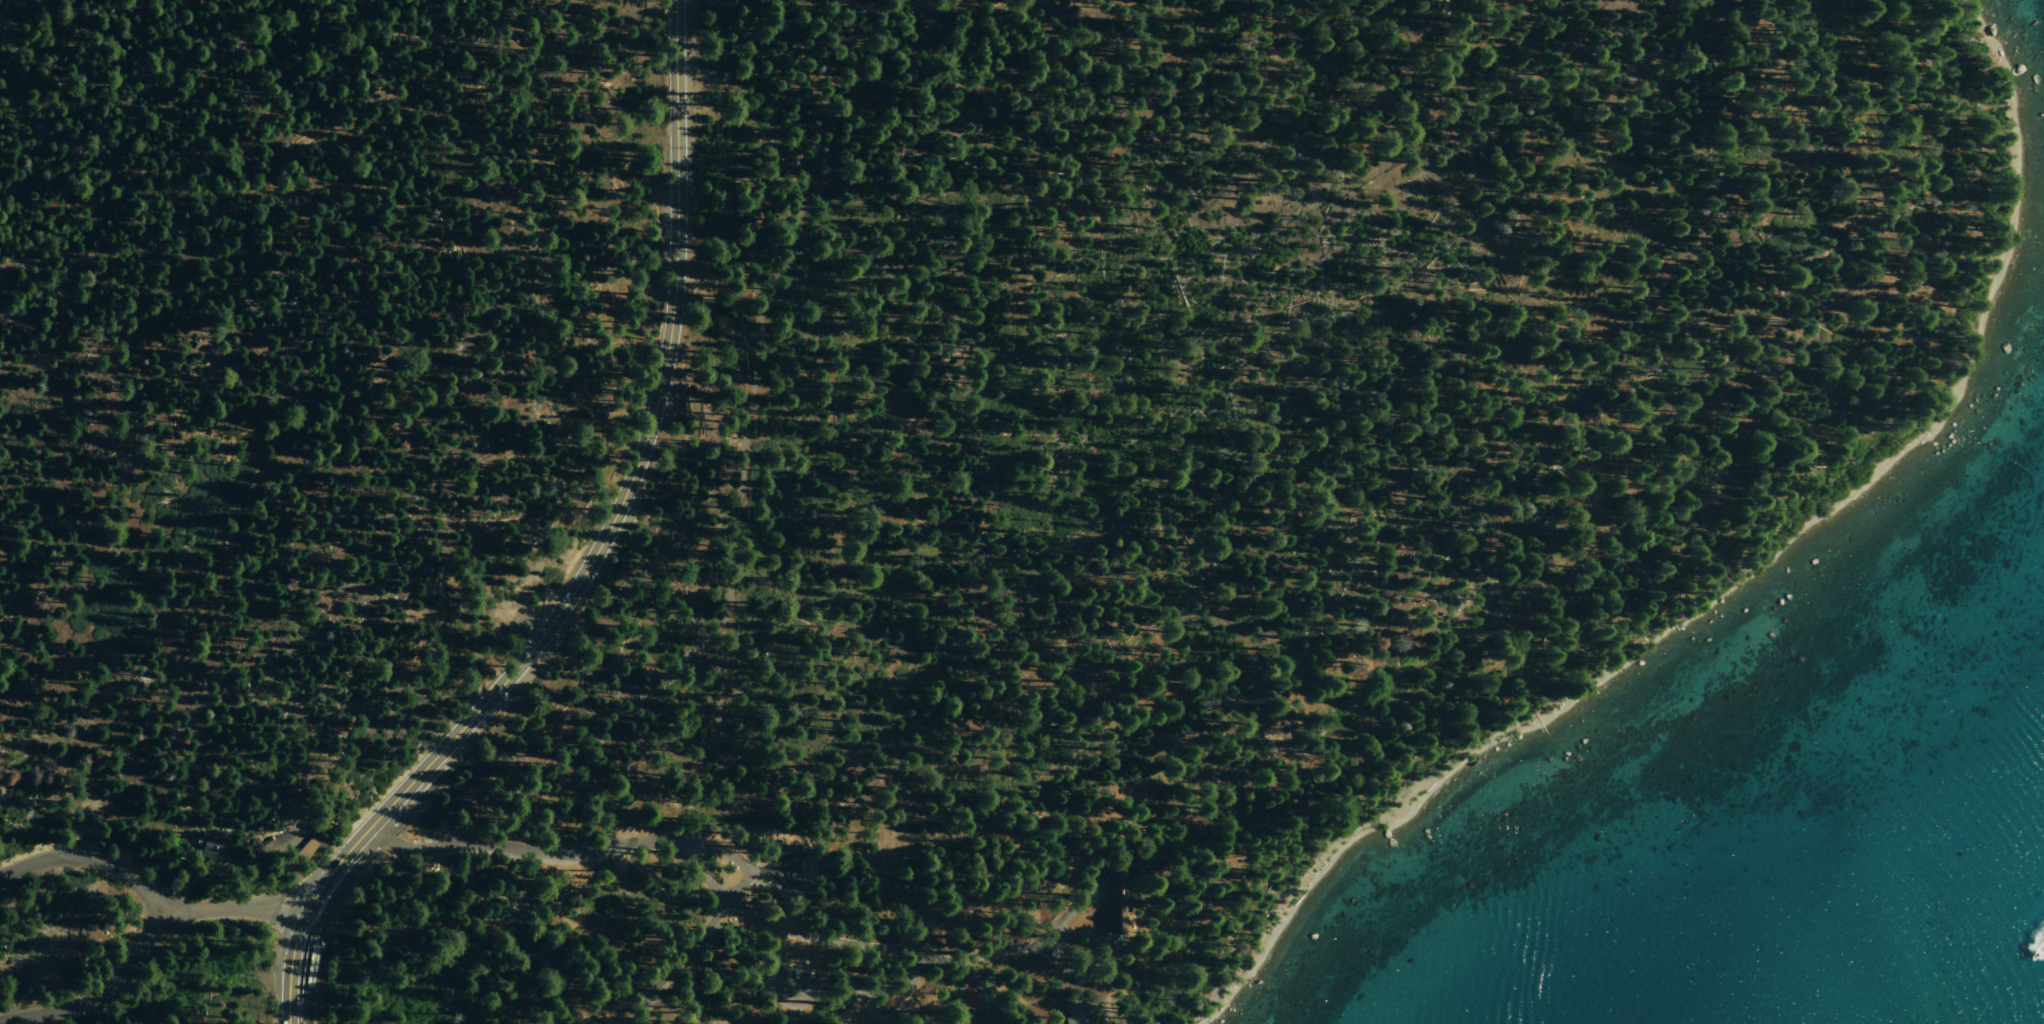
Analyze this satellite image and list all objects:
road: (591, 557)
road: (716, 612)
road: (1367, 742)
road: (439, 768)
road: (912, 816)
road: (513, 847)
building: (213, 853)
road: (145, 893)
building: (1115, 898)
road: (702, 932)
road: (837, 941)
building: (768, 984)
road: (98, 988)
road: (856, 995)
park: (969, 995)
building: (1076, 1014)
building: (879, 1023)
building: (917, 1023)

